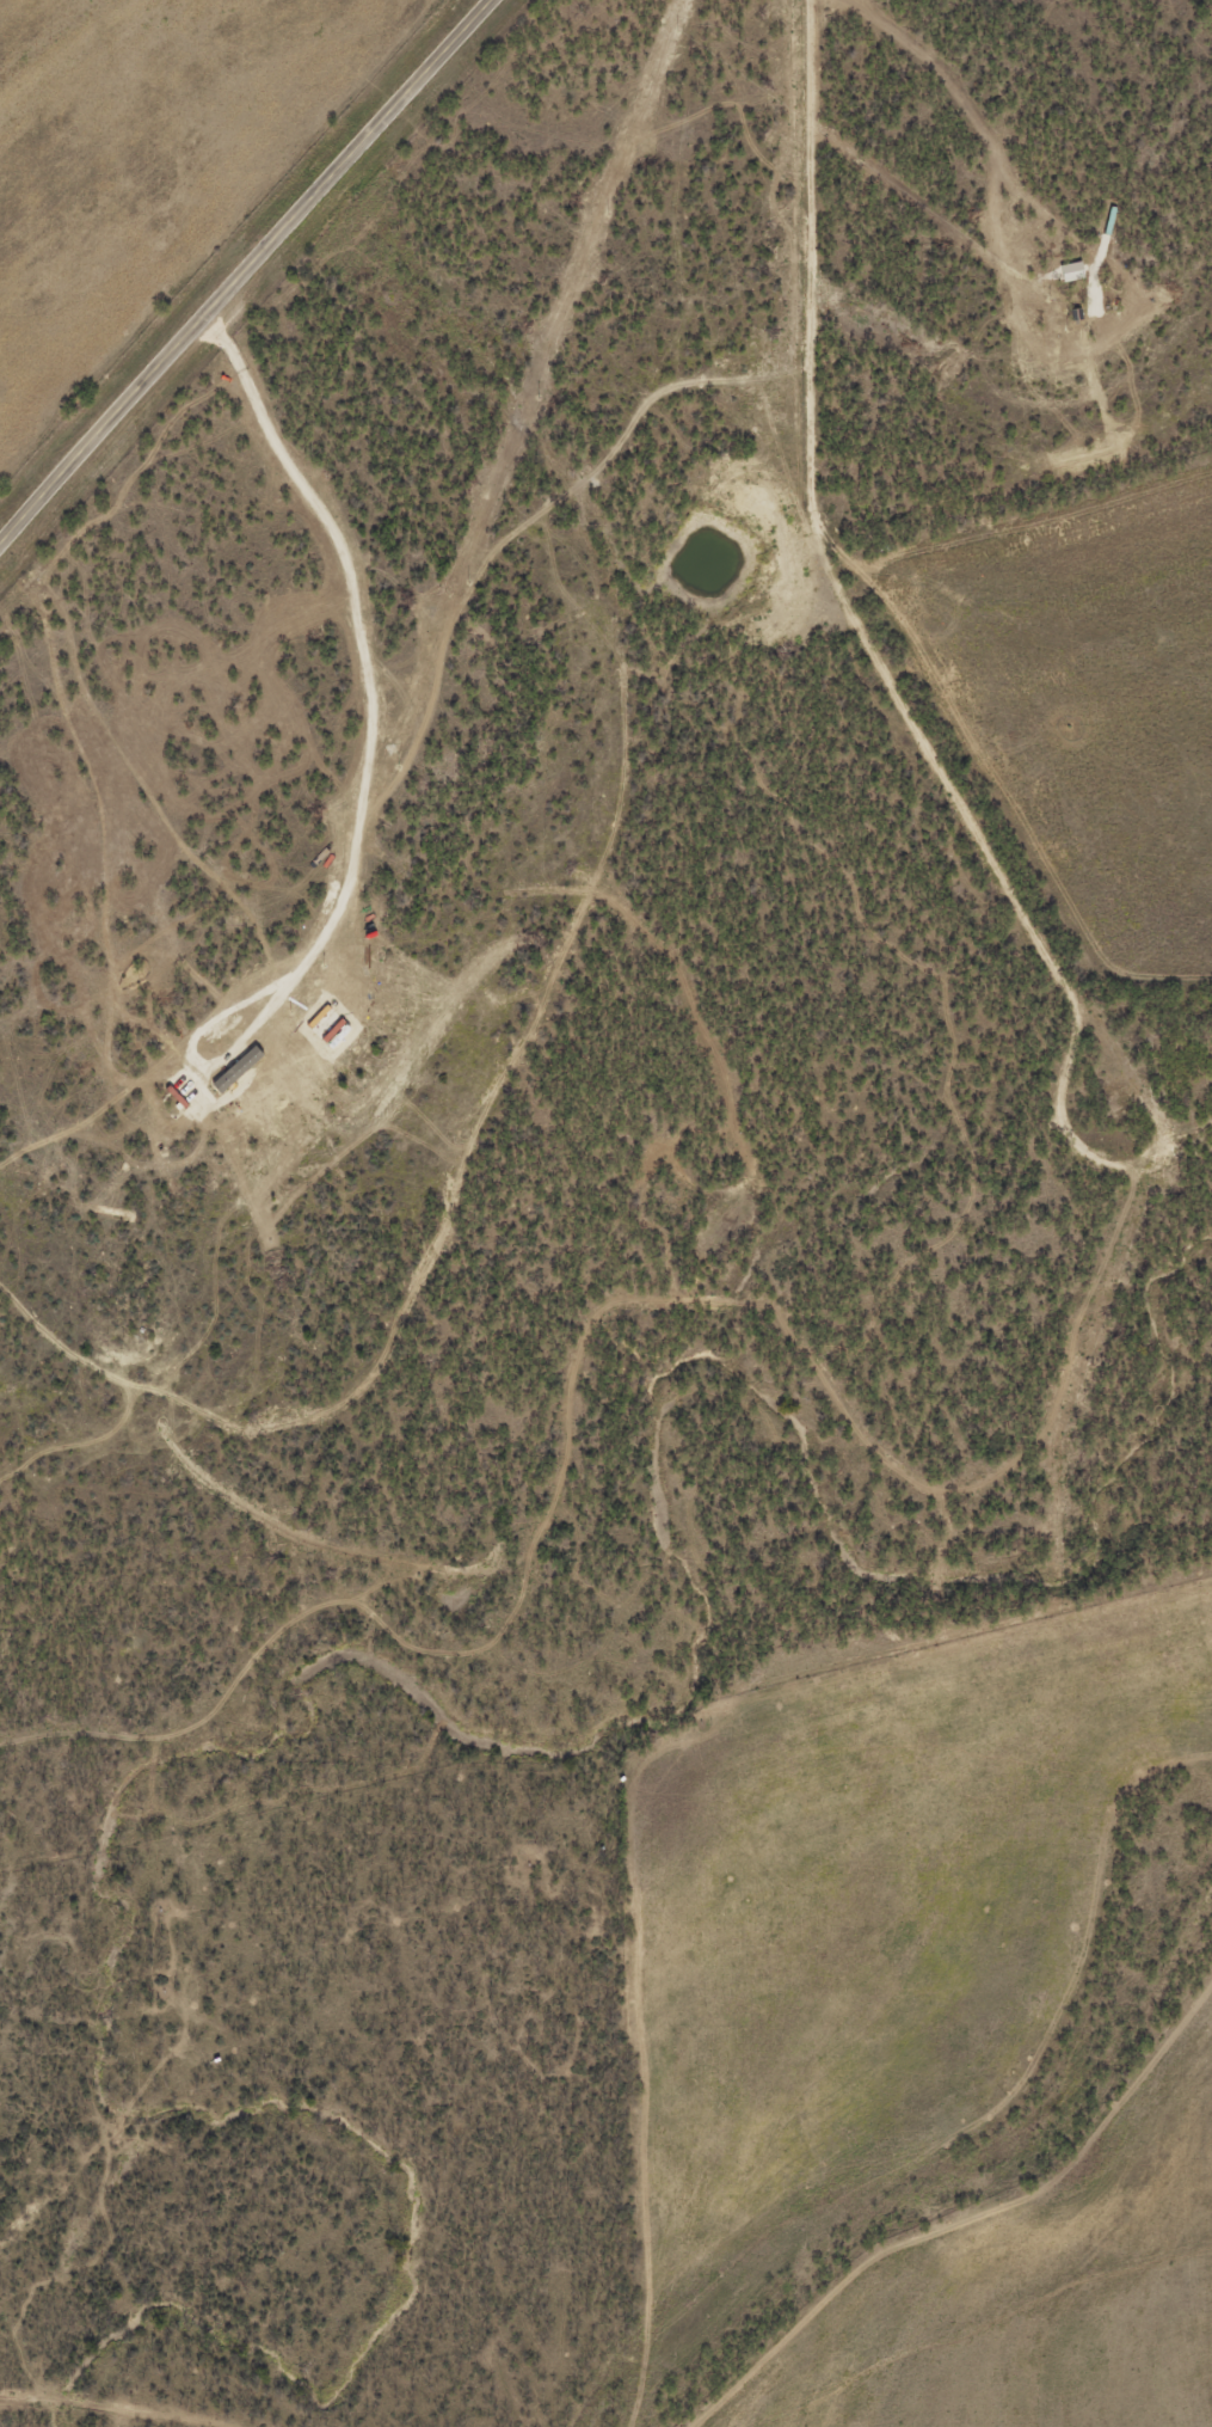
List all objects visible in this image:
road: (244, 272)
road: (786, 588)
road: (361, 615)

